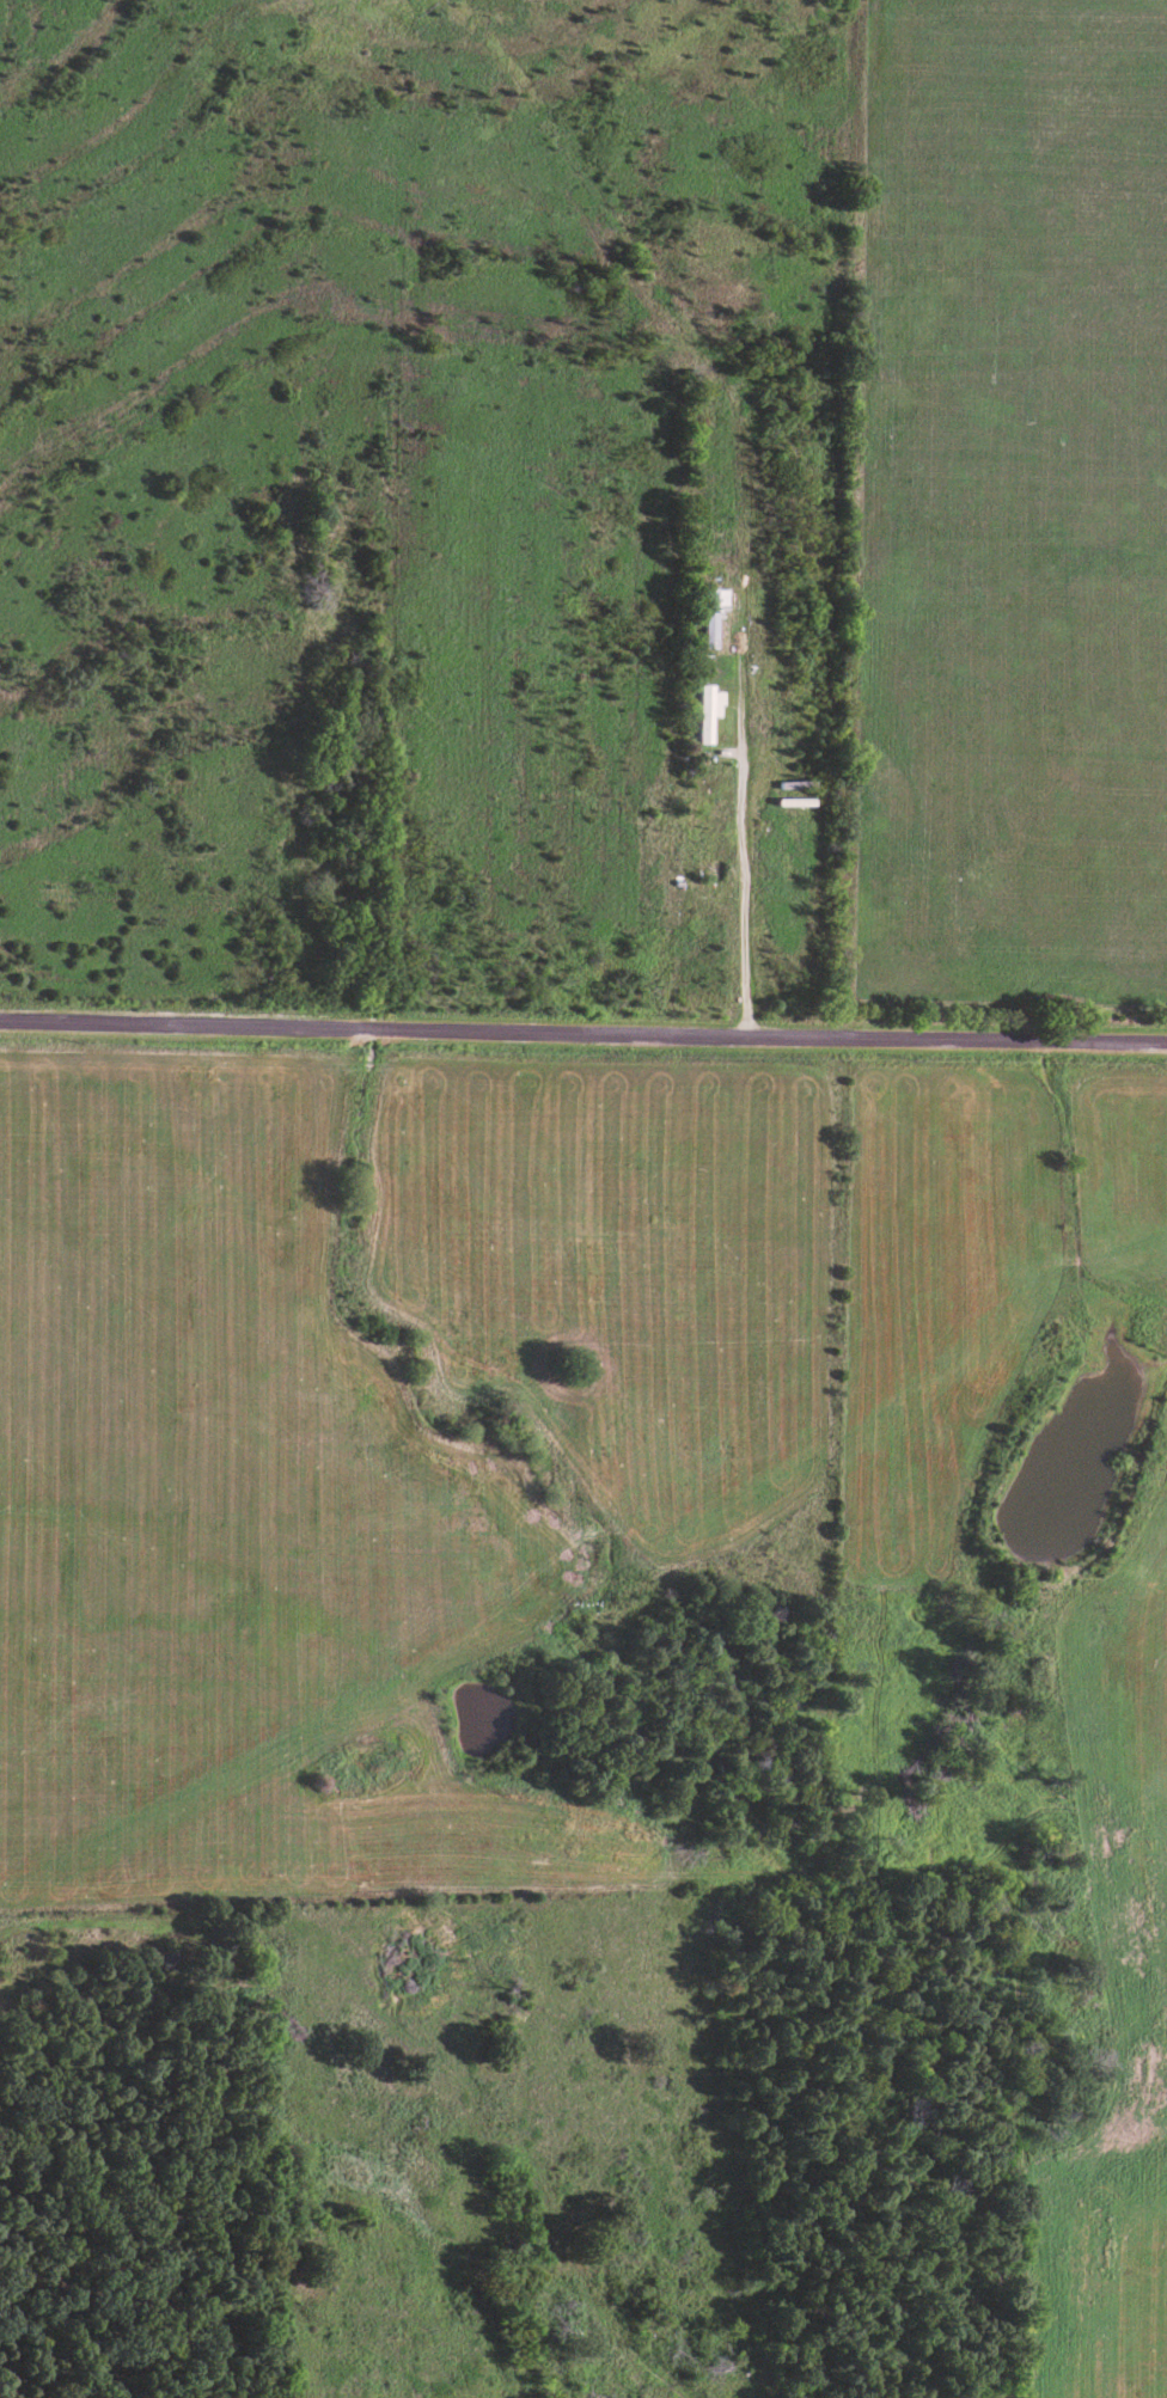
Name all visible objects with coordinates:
building: (707, 624)
building: (708, 712)
building: (699, 805)
road: (733, 812)
road: (583, 1036)

